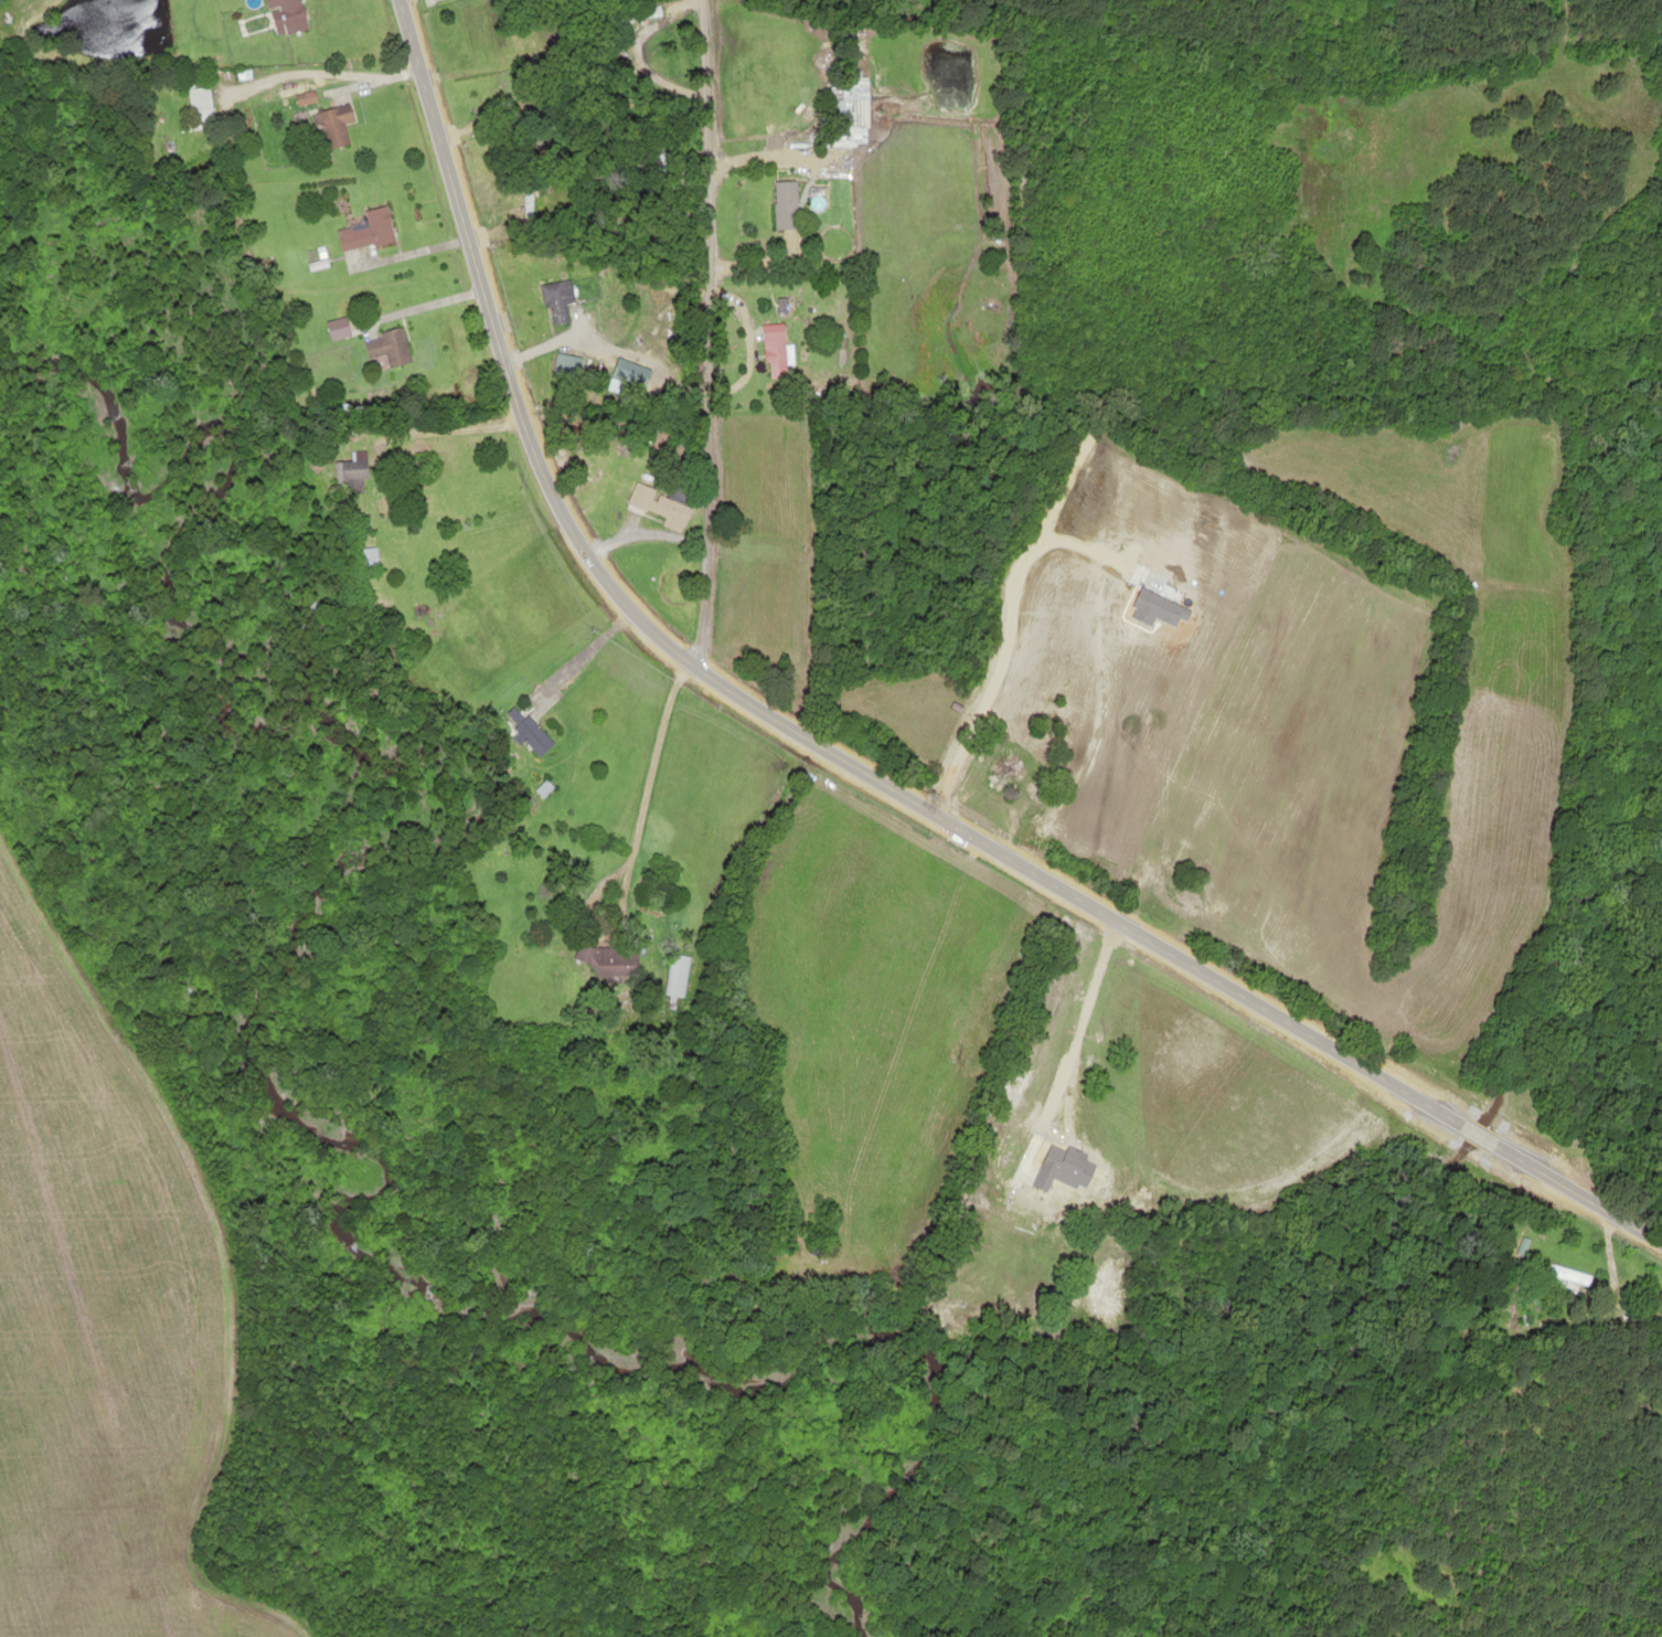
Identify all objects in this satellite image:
building: (639, 13)
building: (281, 15)
building: (302, 97)
building: (198, 107)
building: (851, 111)
building: (331, 125)
building: (526, 196)
building: (784, 204)
building: (379, 226)
building: (351, 237)
building: (557, 299)
road: (696, 332)
building: (667, 333)
building: (774, 347)
building: (391, 349)
building: (573, 366)
building: (631, 373)
building: (352, 476)
building: (656, 506)
building: (367, 559)
road: (757, 704)
building: (526, 732)
building: (1003, 775)
building: (616, 961)
building: (675, 974)
road: (1480, 1130)
road: (1579, 1189)
building: (1089, 1204)
building: (1564, 1273)
crop: (97, 1326)

